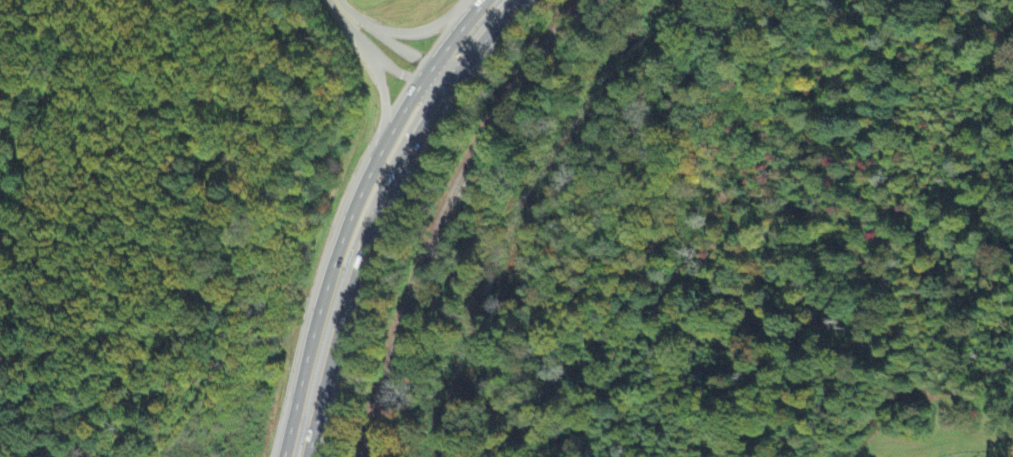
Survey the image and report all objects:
road: (335, 3)
road: (425, 29)
road: (352, 32)
park: (373, 34)
road: (454, 34)
road: (385, 36)
road: (486, 36)
road: (395, 69)
road: (425, 74)
road: (430, 75)
road: (444, 77)
road: (427, 78)
road: (383, 109)
road: (397, 121)
road: (405, 157)
road: (391, 160)
railway: (442, 213)
road: (663, 224)
road: (319, 308)
road: (333, 351)

